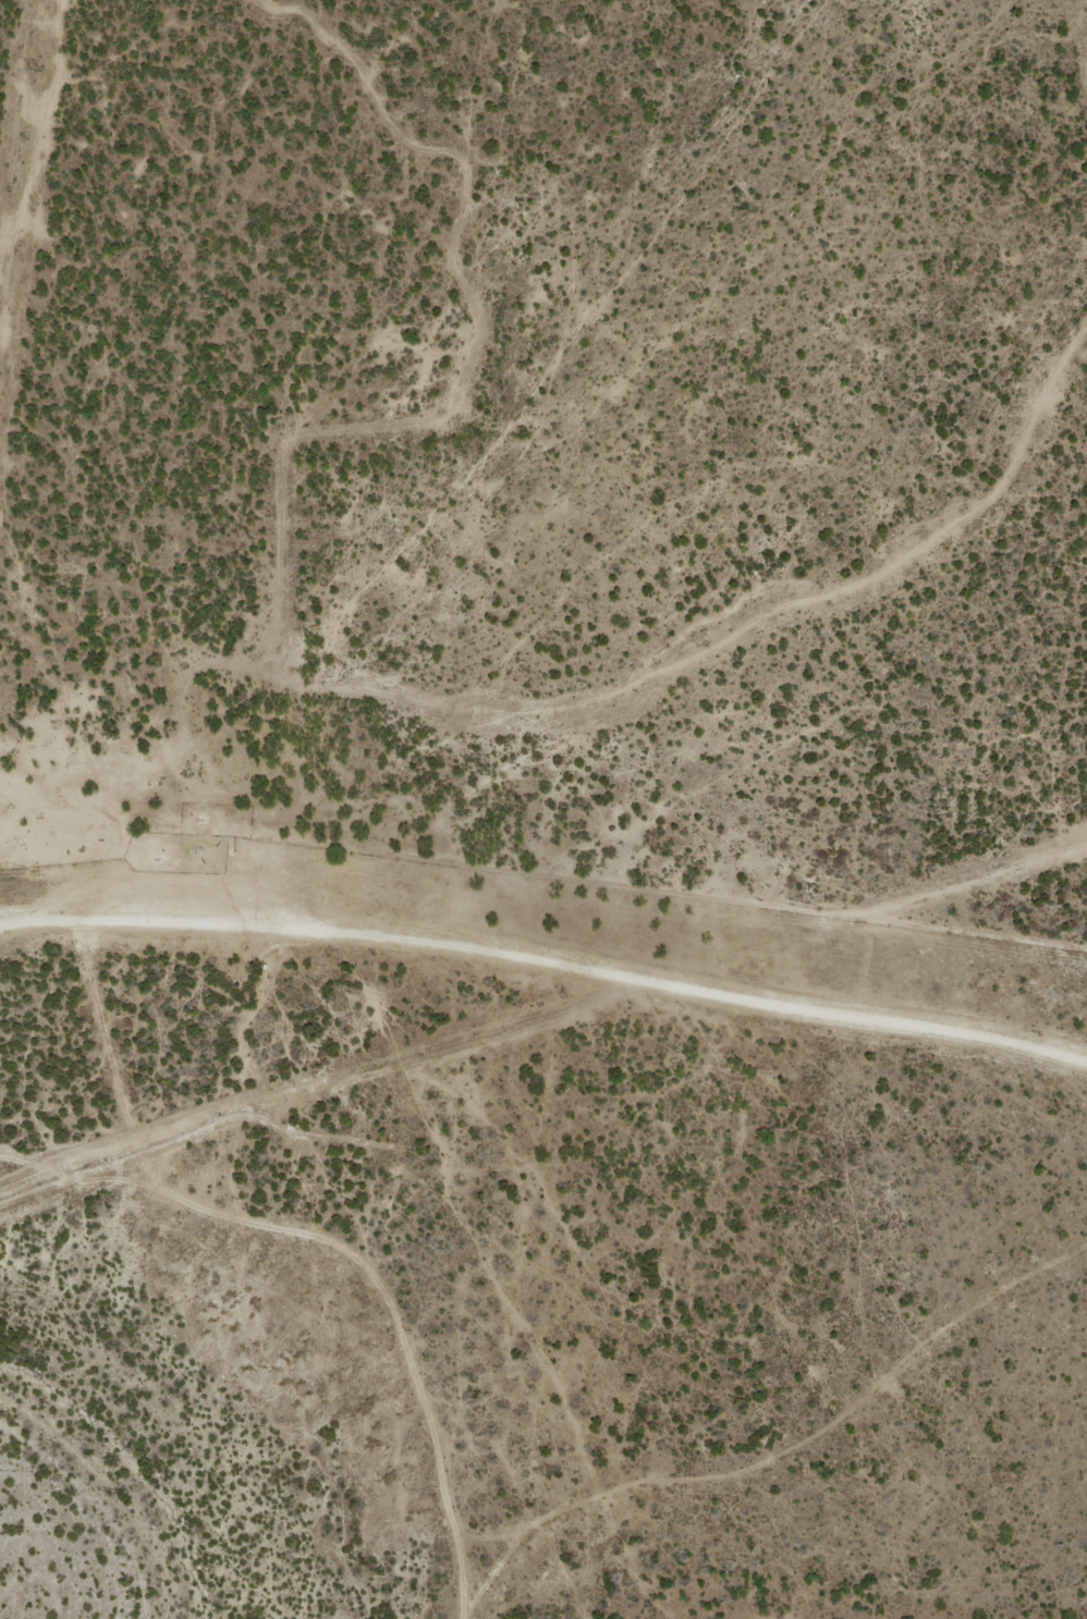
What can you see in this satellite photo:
power tower: (35, 70)
road: (346, 1285)
road: (792, 1488)

